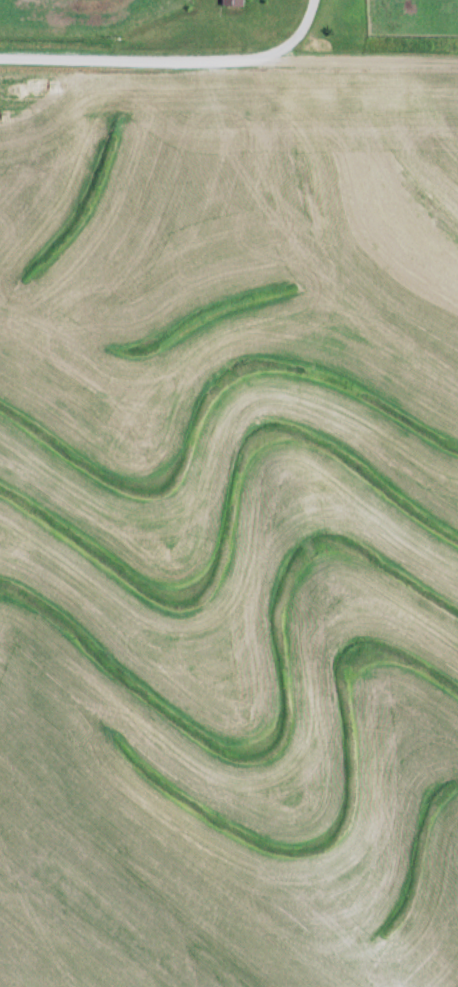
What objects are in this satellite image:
building: (234, 2)
road: (229, 65)

